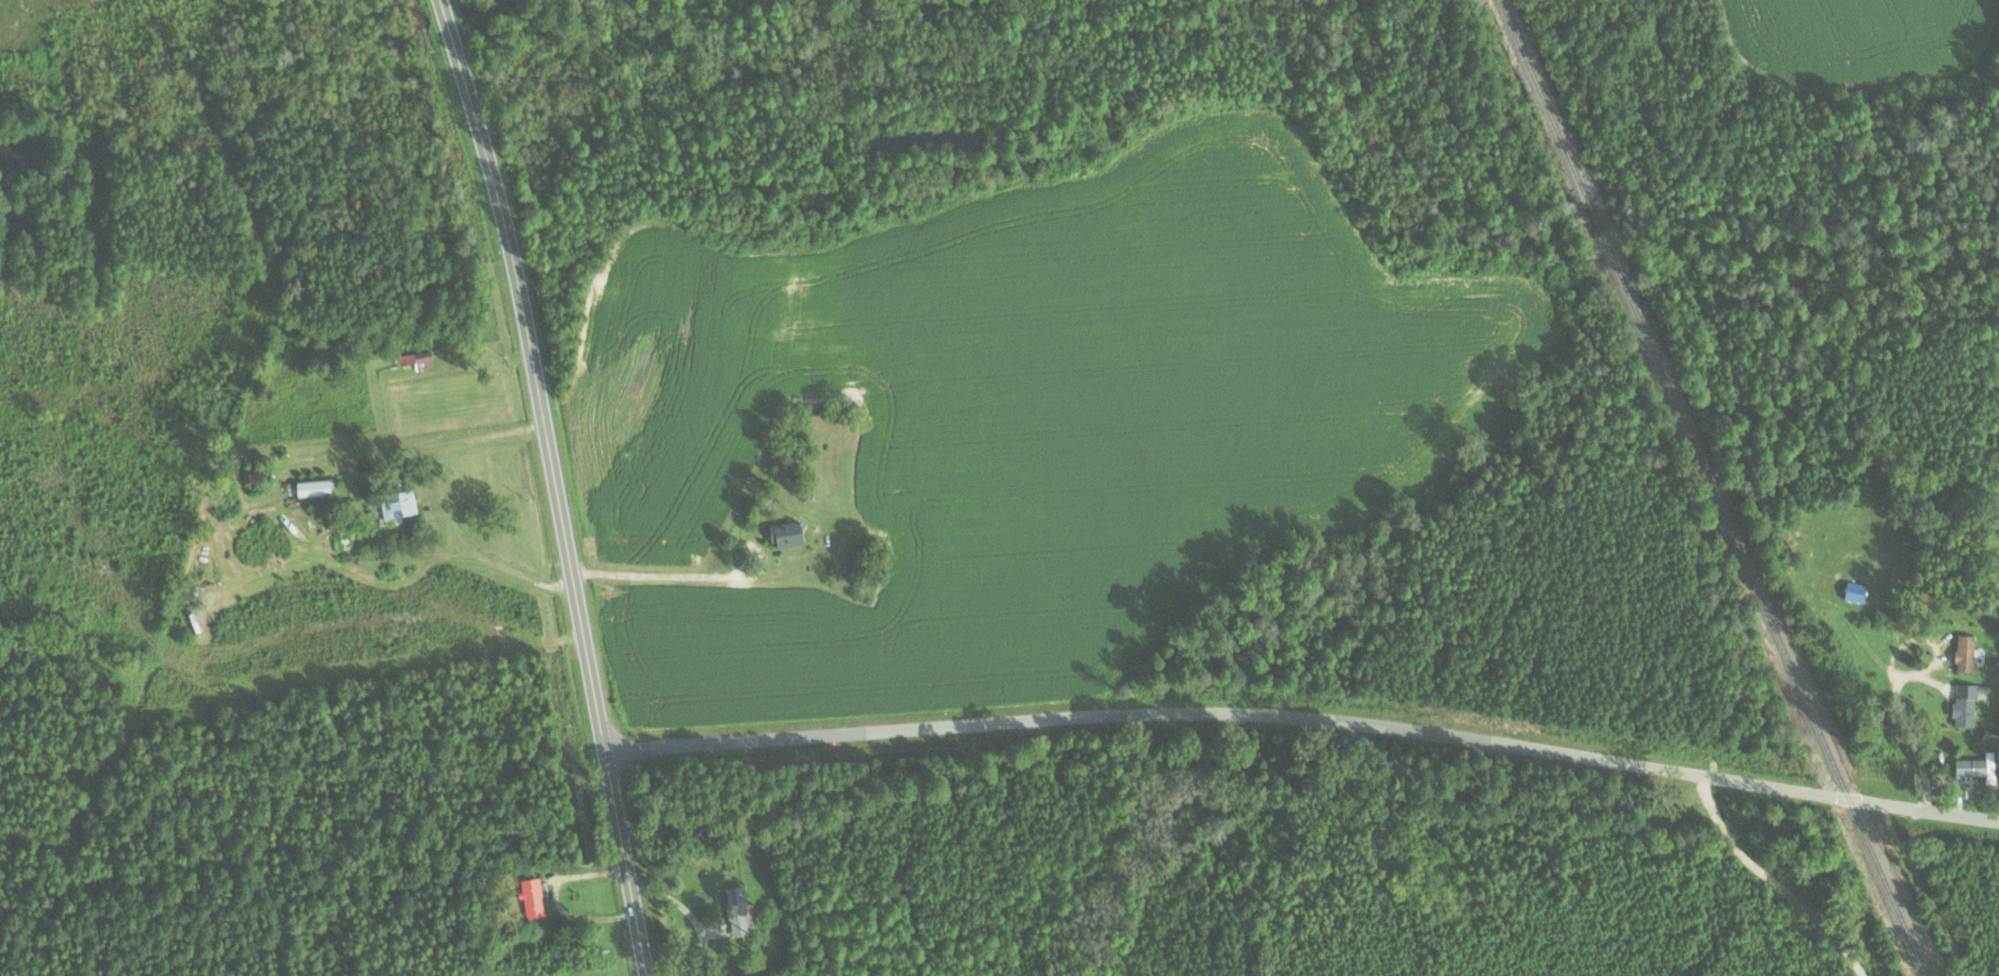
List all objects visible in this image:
railway: (1543, 101)
railway: (1593, 216)
building: (415, 359)
building: (256, 476)
road: (556, 485)
building: (312, 488)
road: (441, 503)
building: (397, 505)
building: (785, 534)
road: (654, 575)
building: (1855, 592)
railway: (1762, 603)
building: (1965, 653)
building: (1965, 705)
road: (1305, 720)
building: (1990, 733)
road: (1912, 746)
building: (1977, 766)
road: (1771, 884)
road: (1928, 889)
building: (532, 897)
building: (736, 909)

